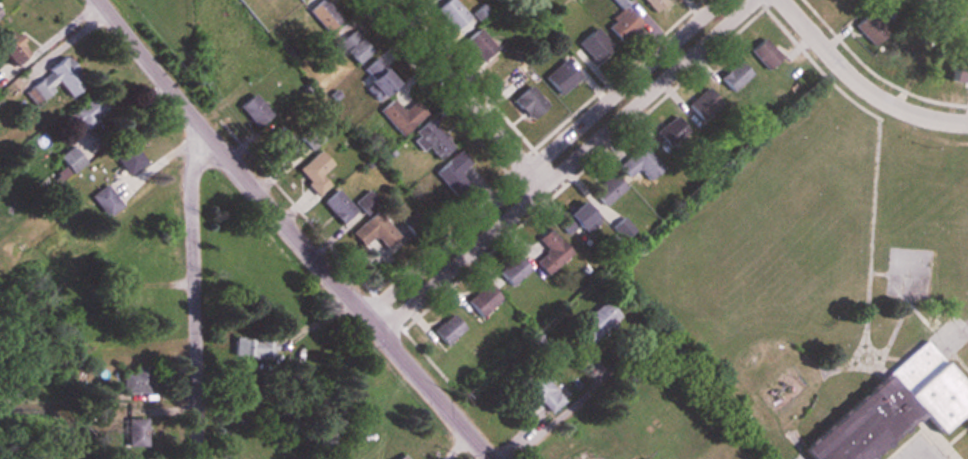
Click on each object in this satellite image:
building: (836, 3)
building: (652, 4)
building: (324, 13)
building: (451, 14)
building: (620, 25)
building: (872, 29)
road: (50, 39)
building: (477, 45)
building: (593, 45)
building: (353, 47)
building: (905, 53)
building: (763, 54)
building: (957, 72)
building: (732, 76)
building: (559, 78)
building: (54, 81)
building: (378, 82)
road: (861, 84)
road: (458, 89)
building: (527, 103)
building: (701, 105)
building: (253, 110)
building: (87, 112)
building: (399, 113)
building: (669, 132)
building: (432, 140)
building: (280, 143)
building: (125, 155)
building: (69, 160)
road: (556, 161)
building: (640, 163)
building: (312, 171)
building: (452, 175)
building: (606, 190)
building: (103, 200)
building: (364, 202)
building: (336, 206)
building: (574, 219)
building: (374, 230)
road: (292, 231)
building: (550, 252)
building: (511, 271)
road: (193, 293)
building: (480, 300)
building: (595, 322)
building: (445, 330)
building: (251, 347)
building: (133, 379)
building: (539, 390)
building: (890, 408)
road: (571, 413)
building: (135, 430)
building: (399, 457)
building: (644, 458)

